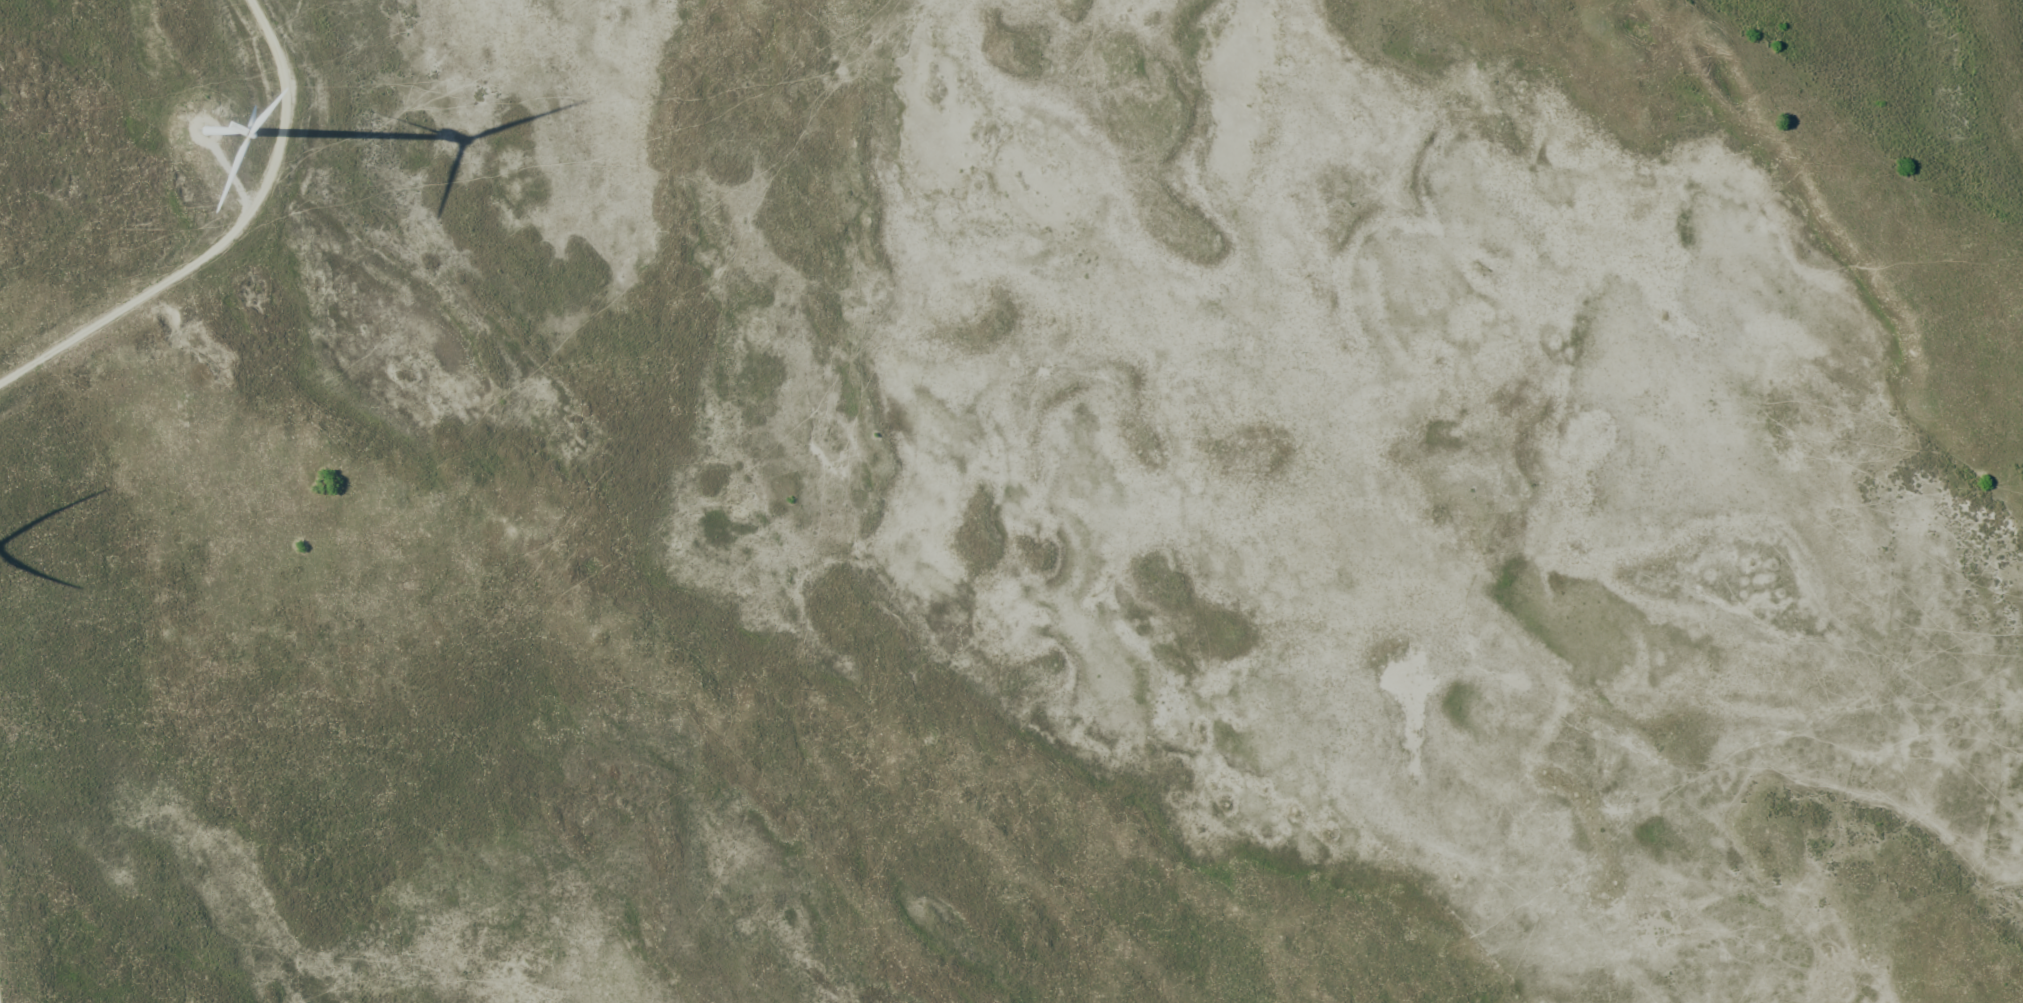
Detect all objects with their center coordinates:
wind turbine: (214, 135)

